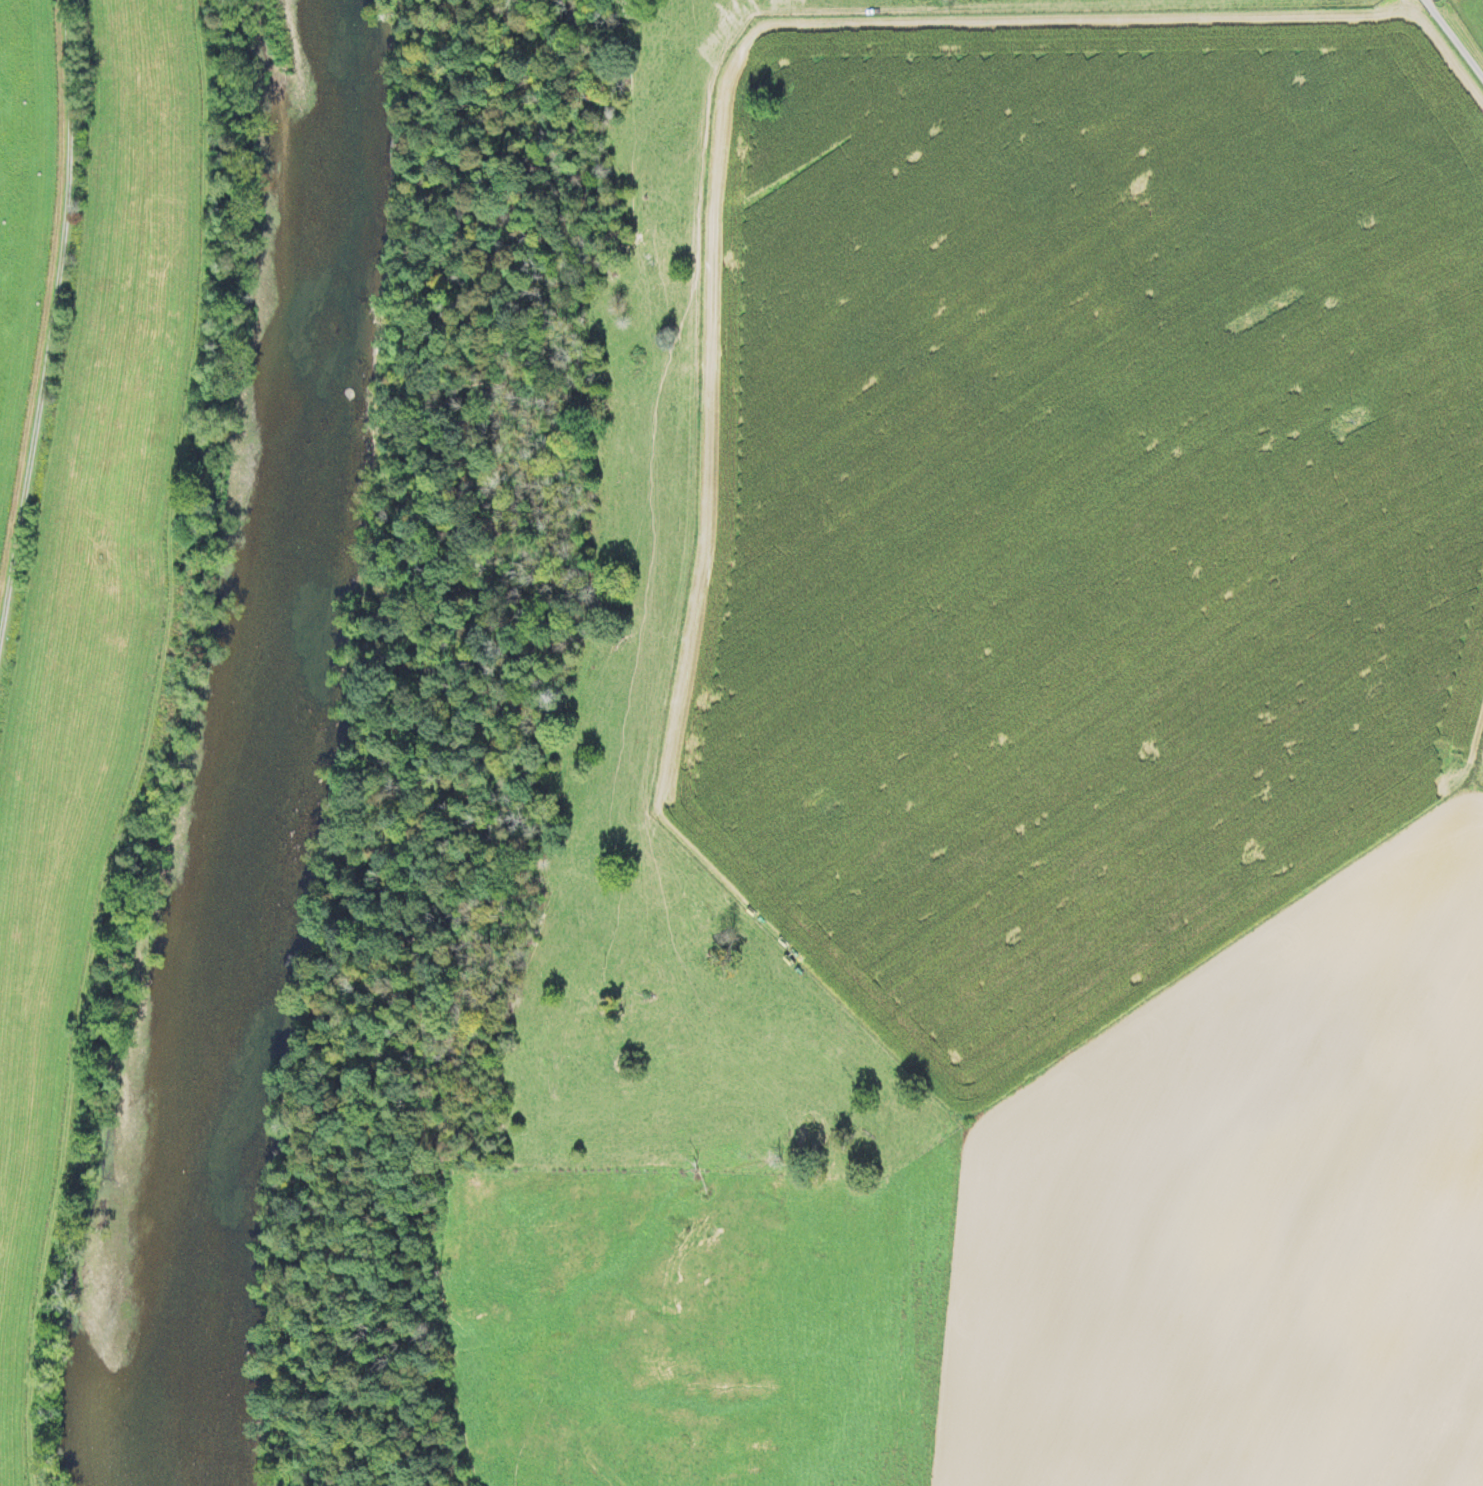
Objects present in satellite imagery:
road: (51, 311)
road: (670, 475)
river: (268, 746)
building: (643, 998)
river: (152, 1433)

